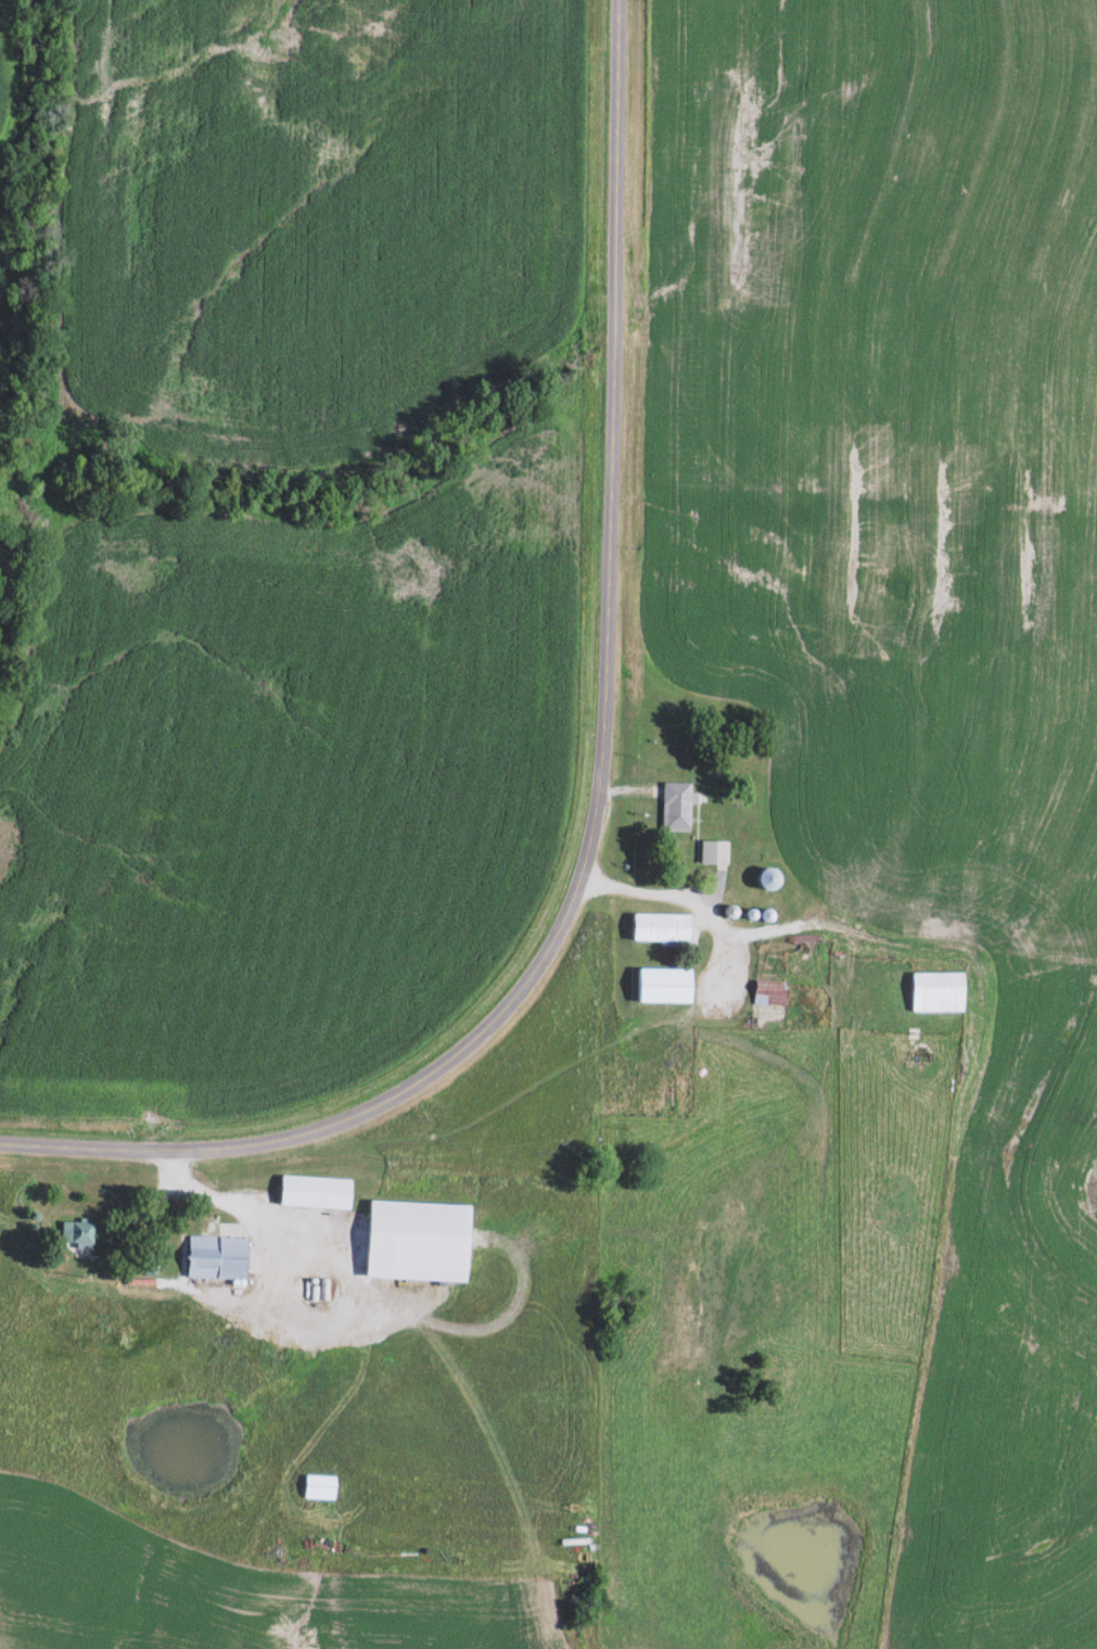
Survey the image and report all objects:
road: (601, 788)
building: (673, 807)
building: (710, 852)
building: (762, 878)
building: (656, 927)
road: (965, 946)
building: (659, 985)
building: (932, 991)
building: (309, 1190)
building: (73, 1232)
building: (212, 1255)
road: (417, 1340)
building: (316, 1486)

